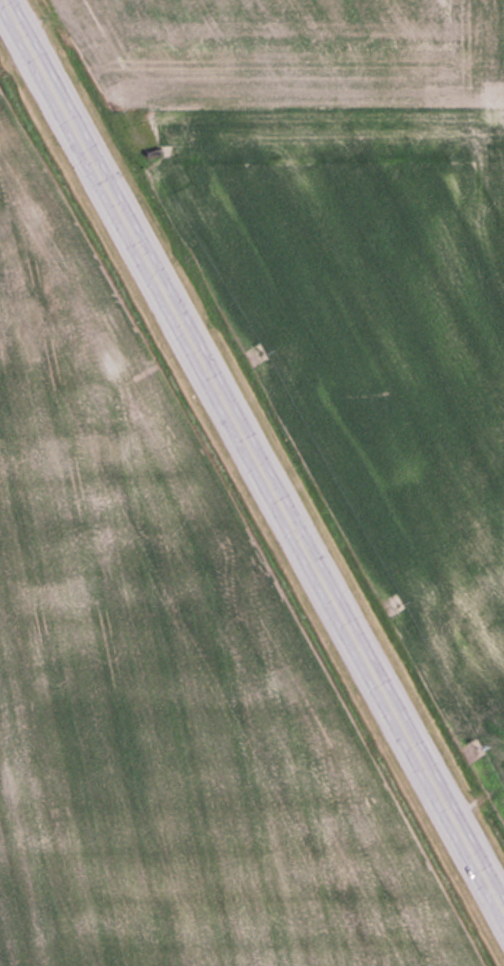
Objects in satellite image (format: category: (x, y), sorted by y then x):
crop: (354, 273)
road: (252, 457)
crop: (163, 670)

